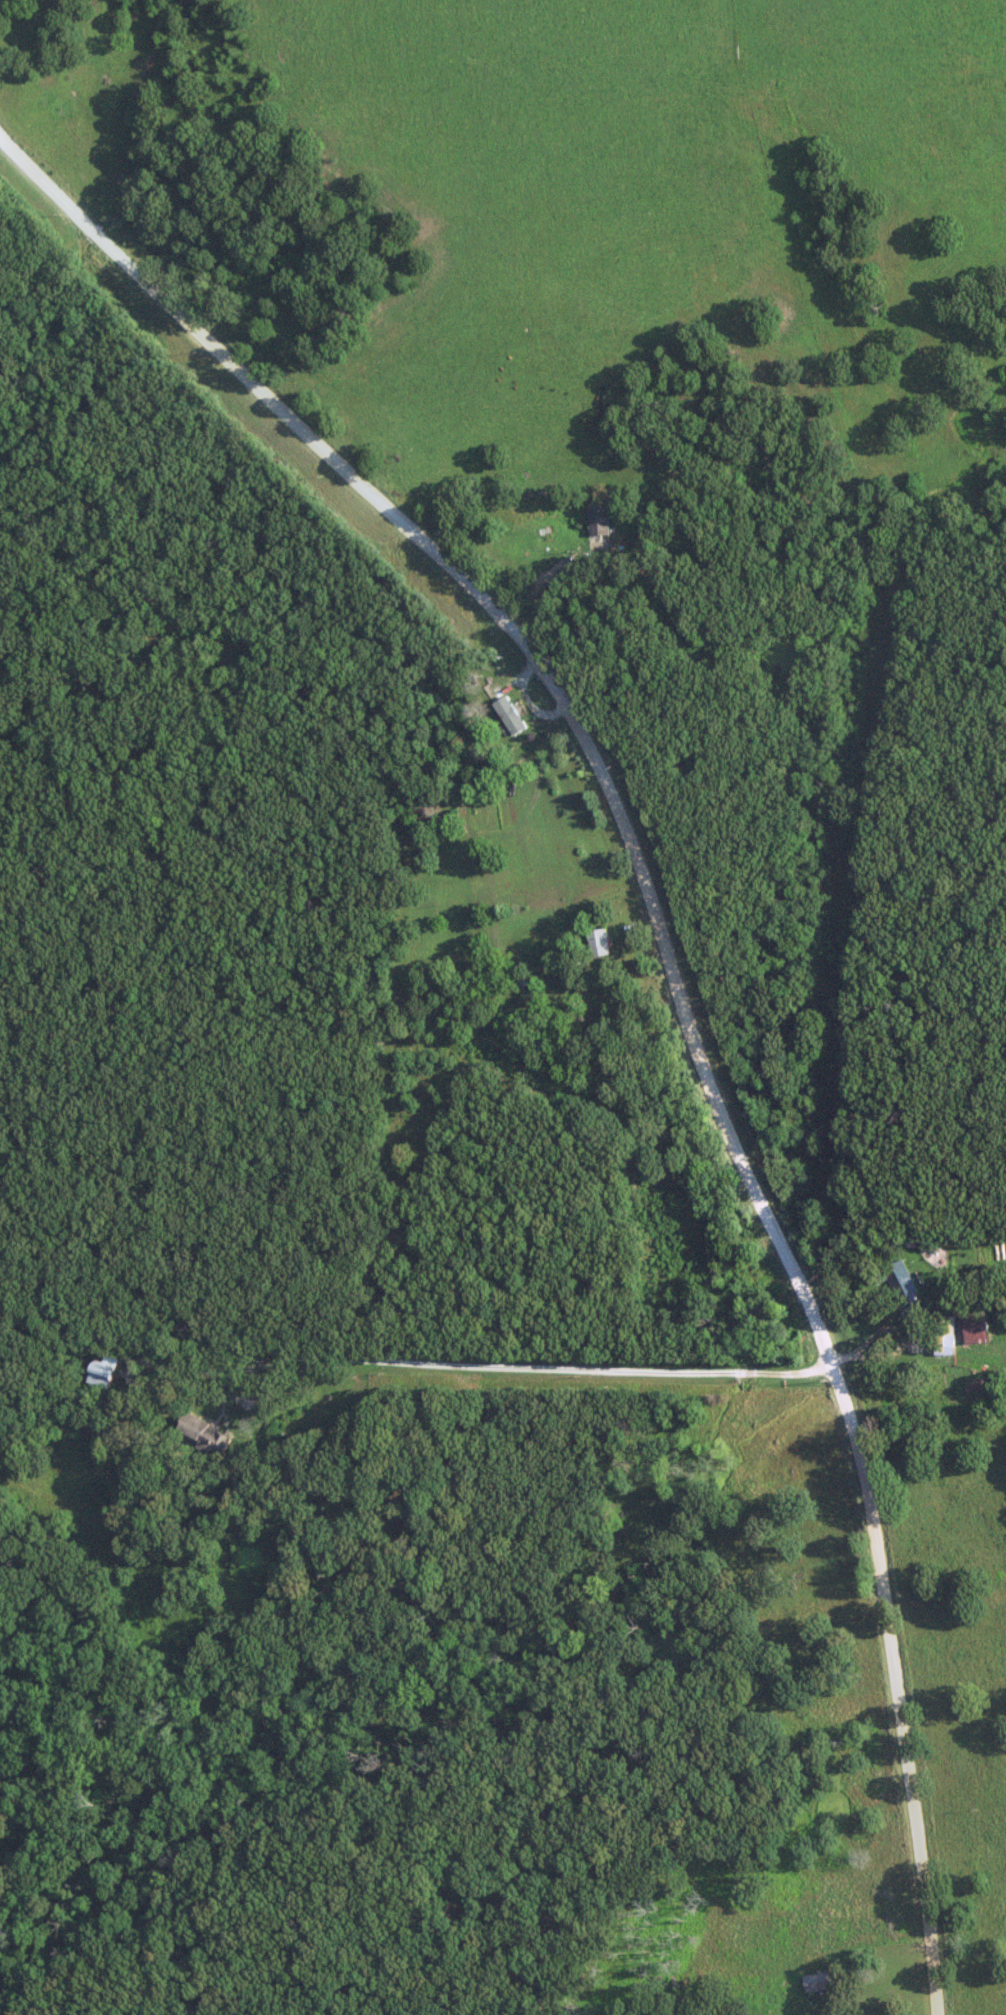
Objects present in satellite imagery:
road: (43, 267)
building: (597, 519)
road: (547, 583)
building: (508, 715)
building: (597, 942)
road: (661, 970)
building: (973, 1330)
building: (943, 1334)
road: (524, 1368)
building: (101, 1371)
building: (202, 1432)
building: (816, 1982)

